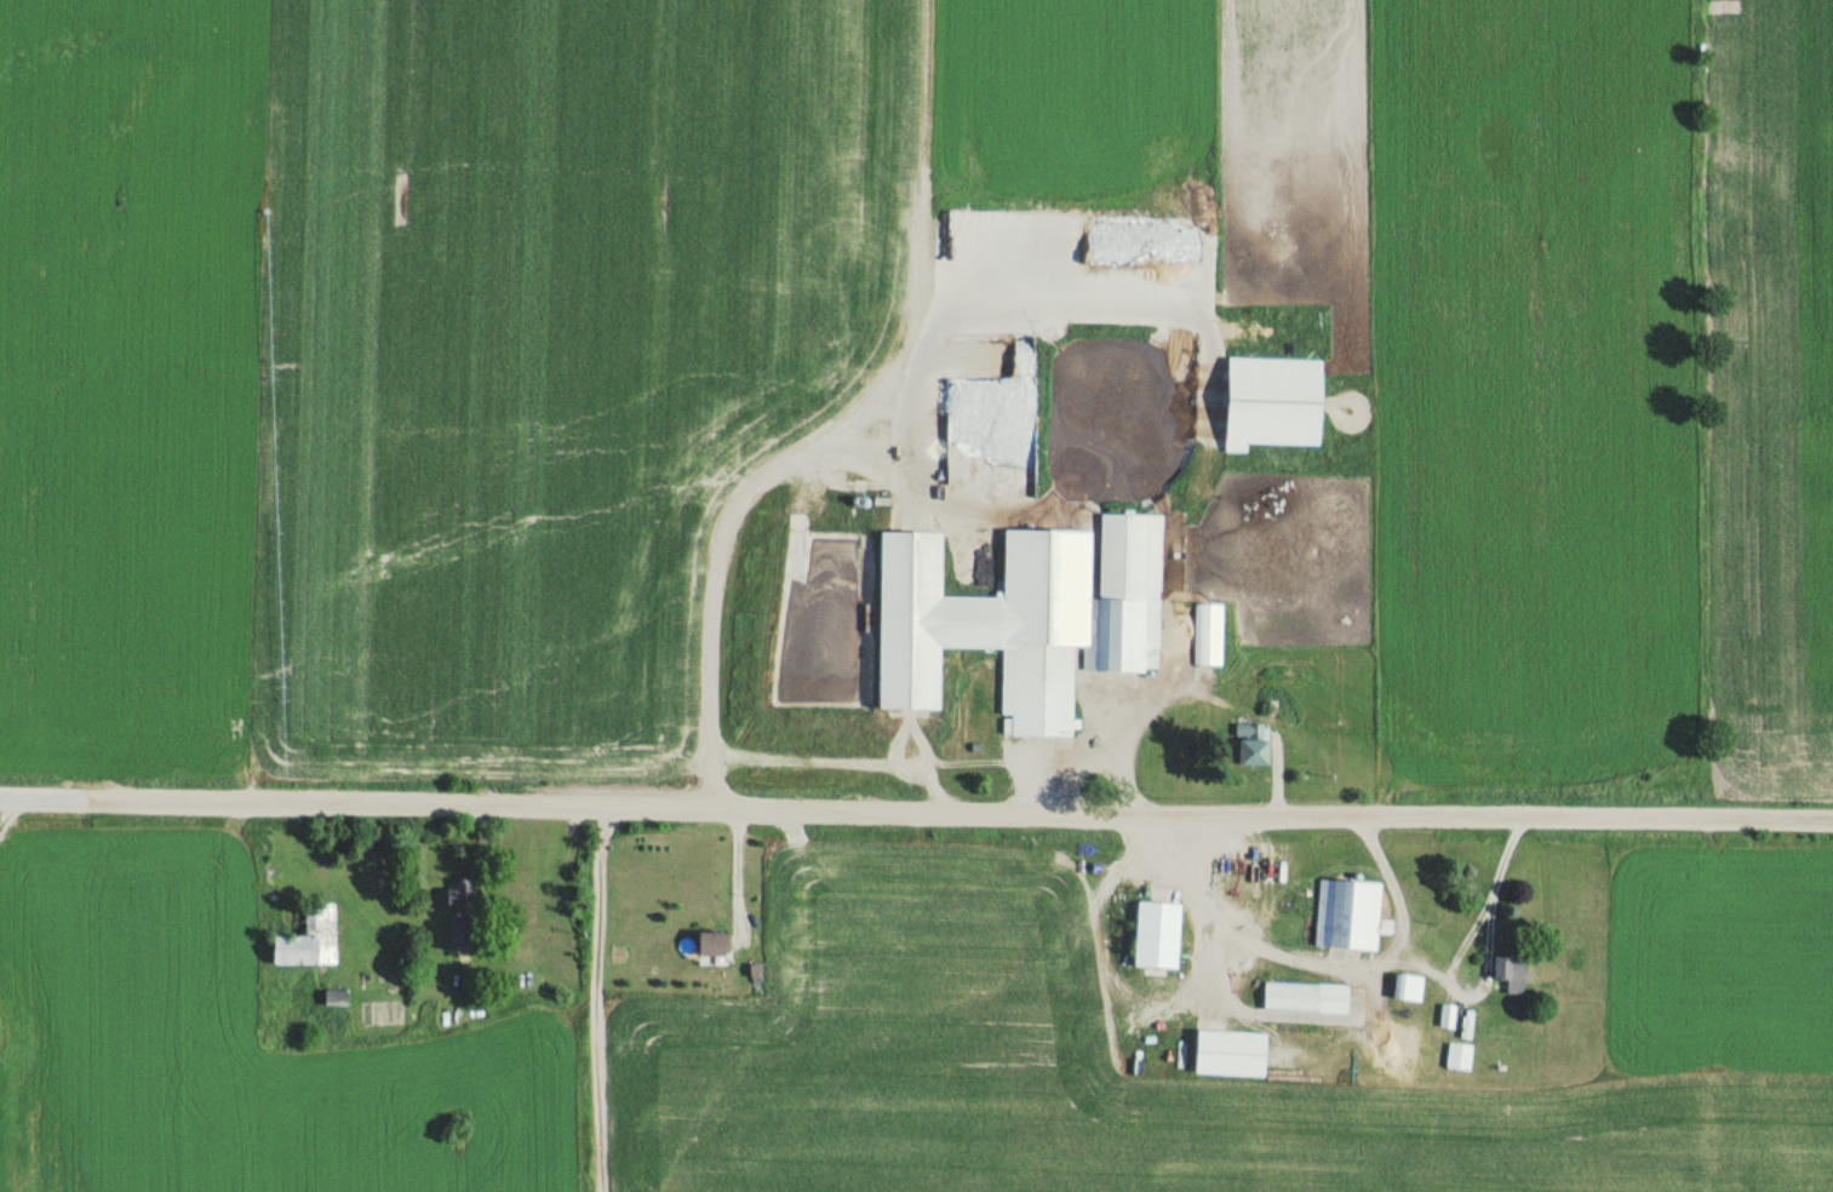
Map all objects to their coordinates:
building: (1270, 401)
building: (1018, 624)
building: (1207, 631)
building: (1250, 743)
road: (916, 812)
building: (460, 895)
building: (1348, 915)
building: (463, 929)
building: (1155, 935)
building: (308, 939)
building: (708, 942)
building: (1510, 972)
building: (1405, 986)
building: (1289, 995)
building: (333, 997)
building: (1445, 1014)
building: (1227, 1051)
building: (1457, 1055)

